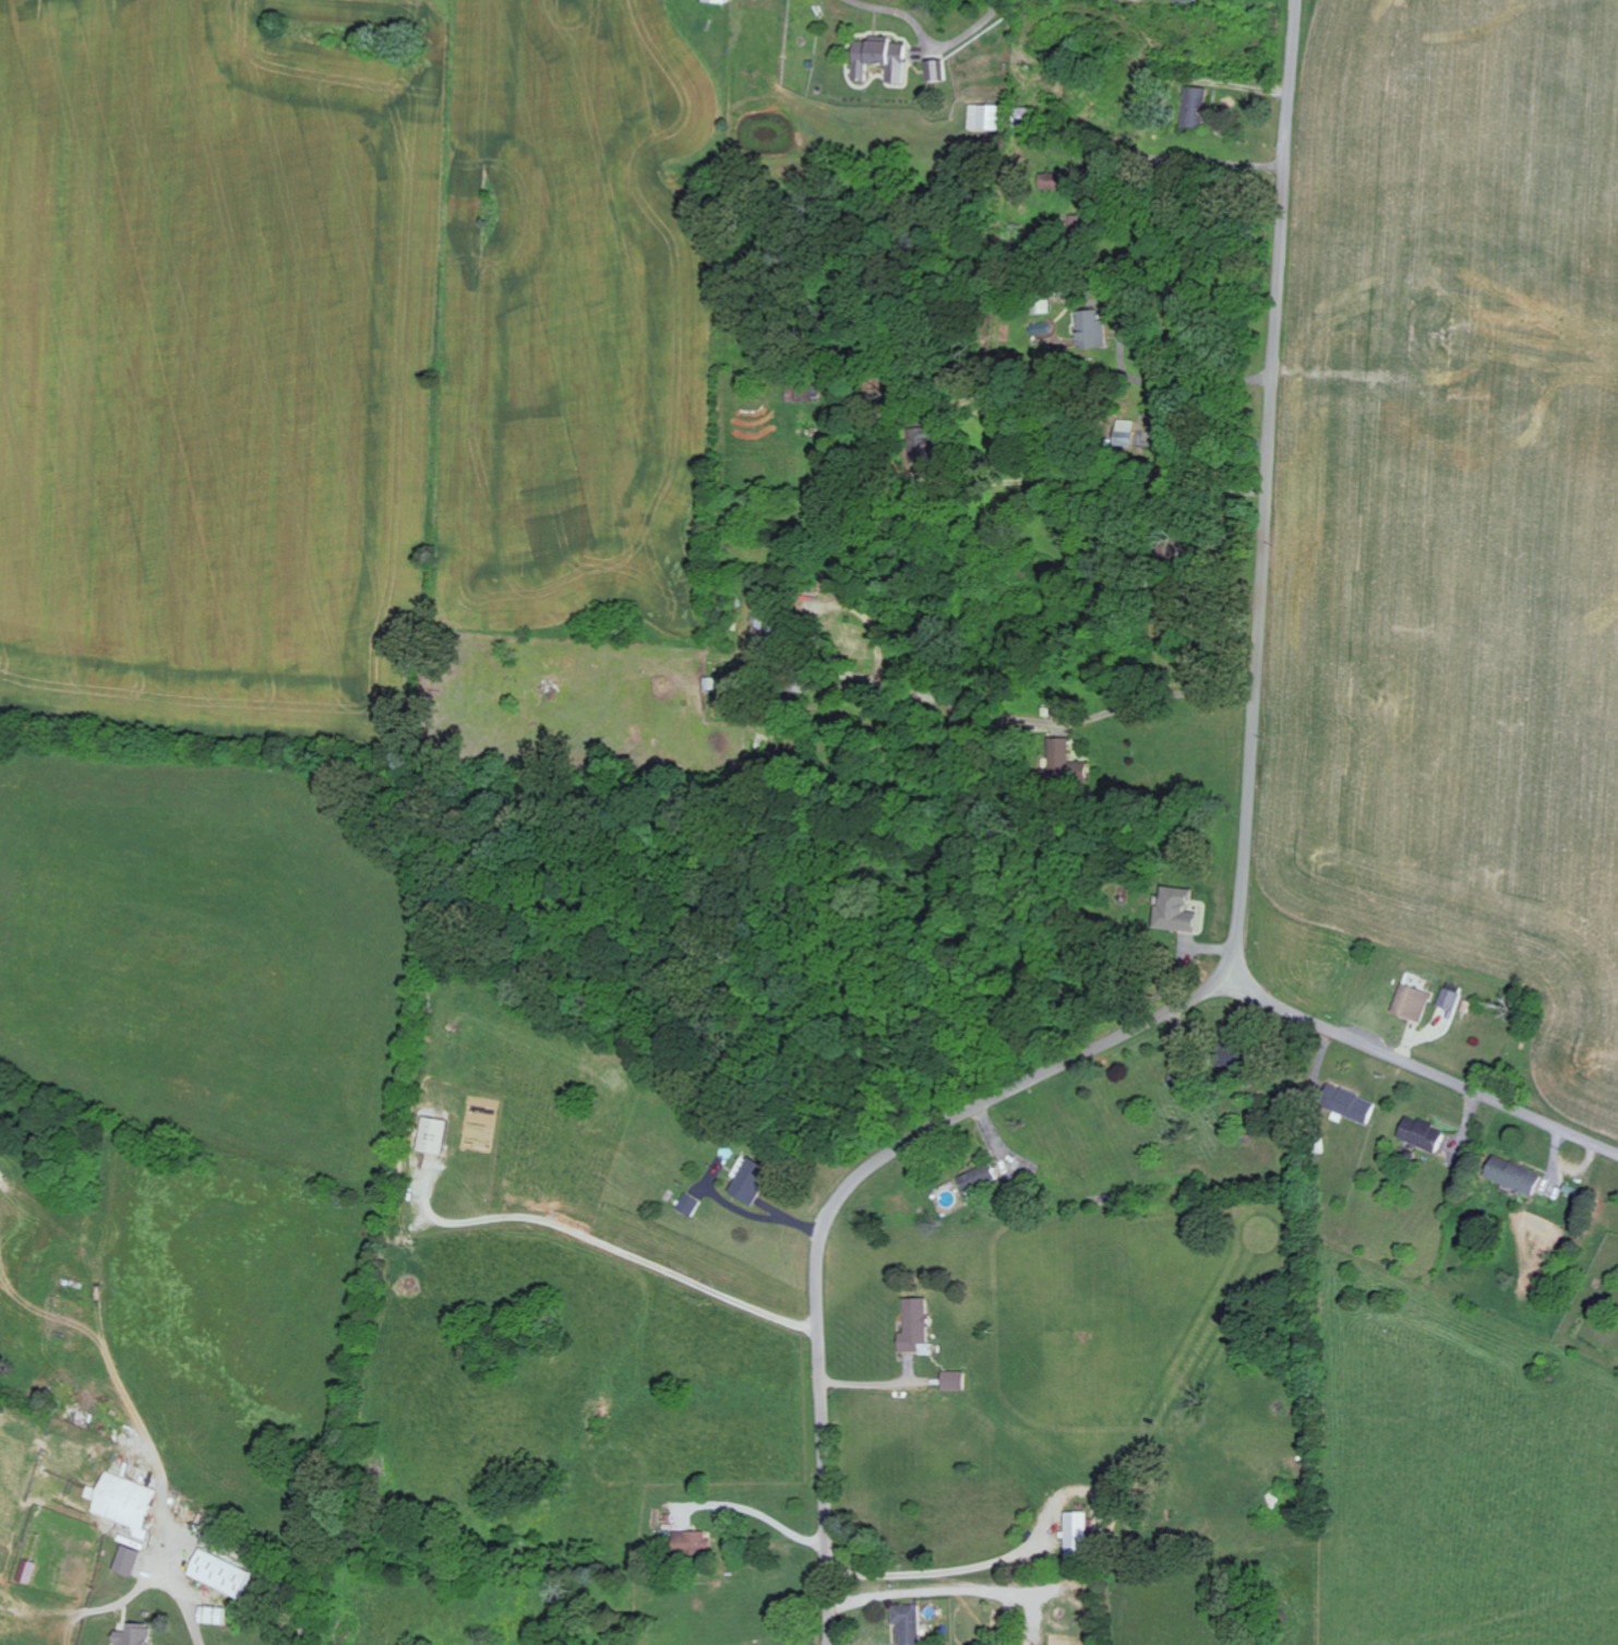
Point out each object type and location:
building: (1186, 0)
building: (718, 1)
building: (880, 58)
building: (937, 70)
building: (1196, 106)
building: (985, 117)
building: (1094, 329)
building: (1166, 416)
road: (1271, 493)
building: (1067, 763)
building: (1176, 909)
building: (1452, 996)
building: (1414, 1001)
road: (1424, 1070)
building: (1351, 1102)
building: (1424, 1133)
building: (433, 1134)
building: (1515, 1175)
building: (981, 1177)
building: (756, 1180)
road: (841, 1201)
building: (690, 1204)
road: (606, 1245)
building: (914, 1324)
building: (954, 1380)
building: (128, 1502)
road: (755, 1512)
building: (1076, 1531)
building: (693, 1541)
building: (129, 1560)
building: (26, 1572)
road: (947, 1572)
building: (221, 1573)
road: (179, 1590)
building: (214, 1614)
building: (997, 1622)
building: (909, 1623)
building: (134, 1634)

